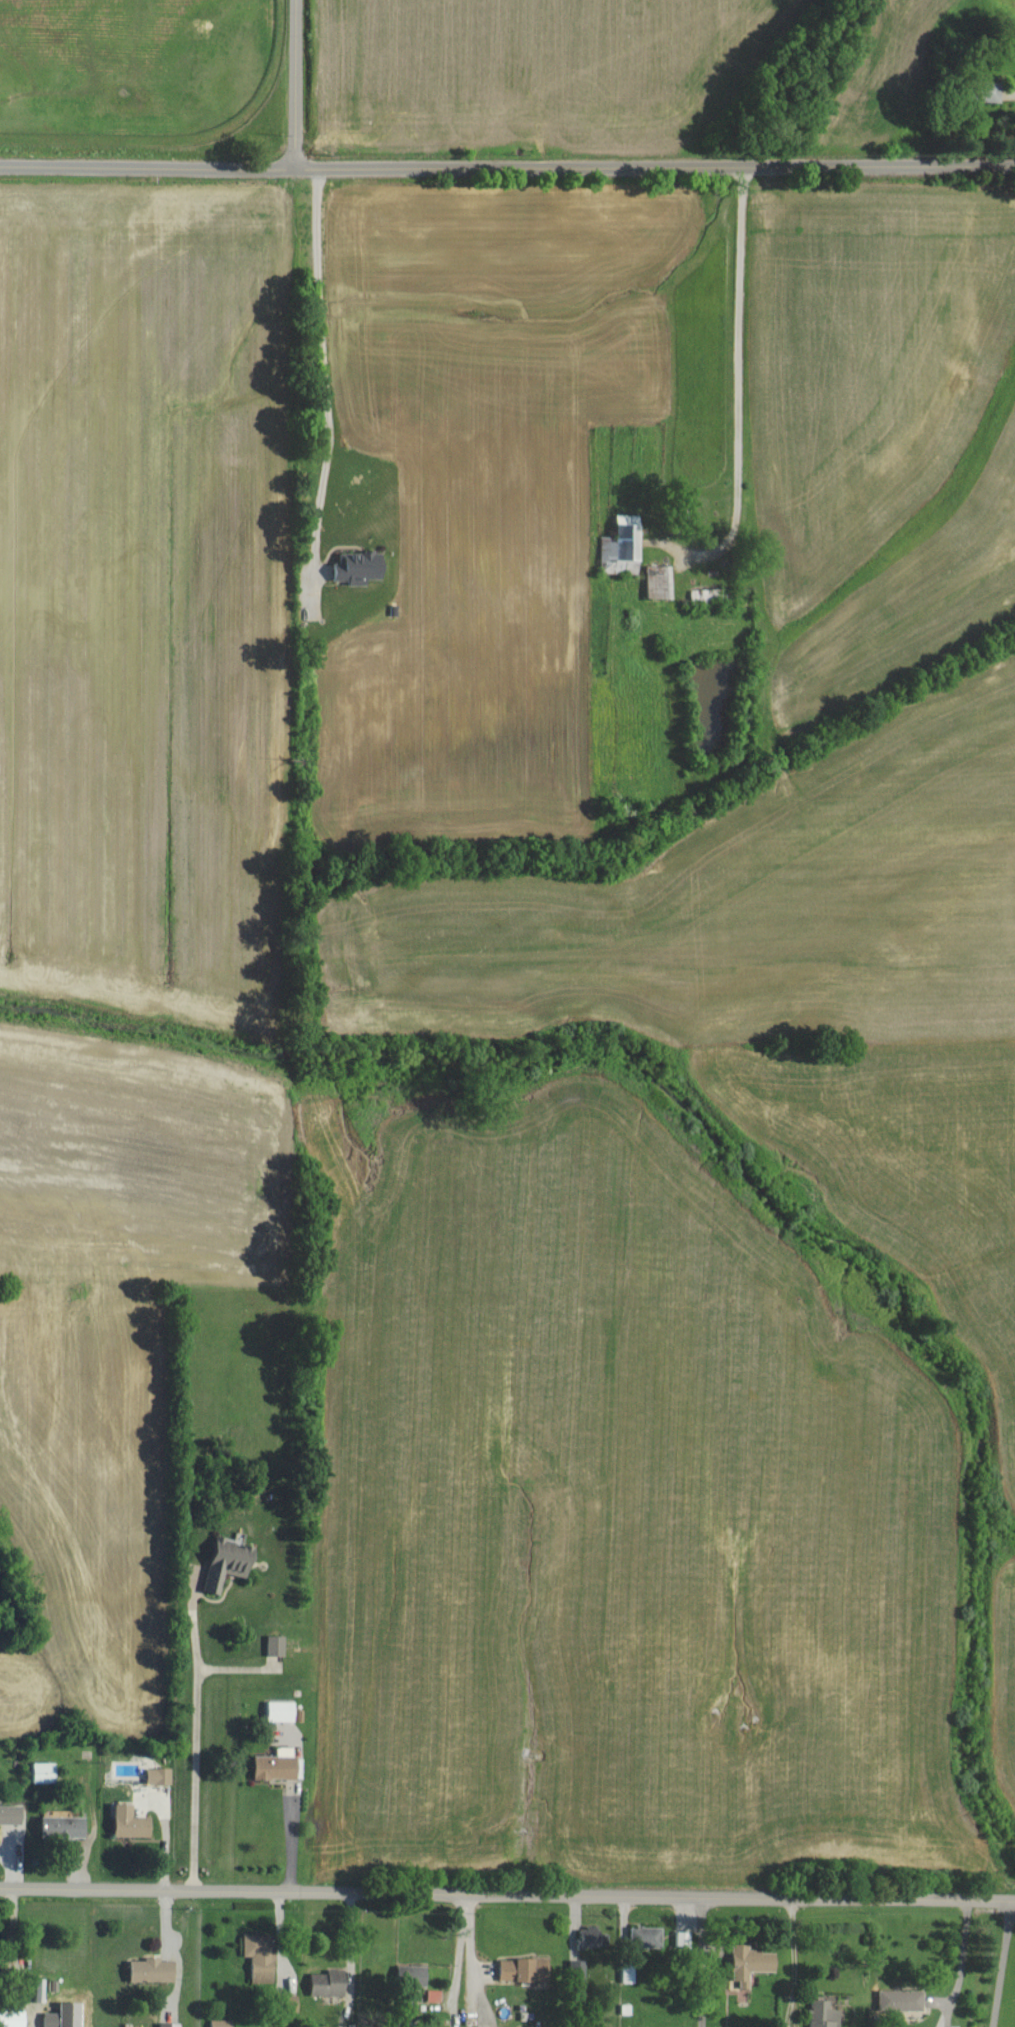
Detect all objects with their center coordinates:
road: (291, 83)
building: (978, 91)
road: (507, 167)
road: (740, 378)
road: (326, 383)
building: (625, 547)
building: (362, 568)
building: (662, 582)
building: (708, 595)
building: (232, 1563)
building: (279, 1645)
building: (284, 1711)
road: (193, 1743)
building: (280, 1765)
building: (47, 1772)
building: (162, 1775)
building: (12, 1814)
building: (133, 1822)
building: (66, 1827)
road: (507, 1894)
building: (593, 1936)
building: (649, 1936)
building: (685, 1938)
building: (263, 1957)
road: (702, 1962)
road: (1000, 1962)
building: (753, 1964)
building: (527, 1969)
building: (155, 1970)
building: (415, 1974)
building: (0, 1977)
building: (332, 1983)
building: (437, 1996)
building: (899, 2000)
building: (823, 2012)
building: (15, 2017)
building: (55, 2020)
building: (224, 2023)
building: (172, 2024)

